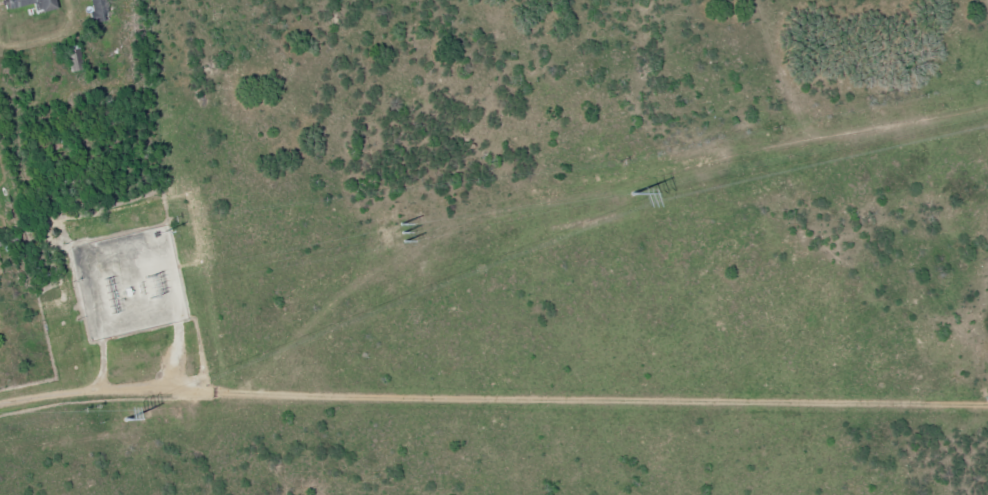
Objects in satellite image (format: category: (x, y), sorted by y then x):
building: (30, 4)
building: (97, 10)
building: (74, 58)
road: (9, 63)
power tower: (634, 194)
power tower: (397, 233)
power substation: (127, 281)
road: (22, 399)
road: (516, 401)
power tower: (124, 421)

